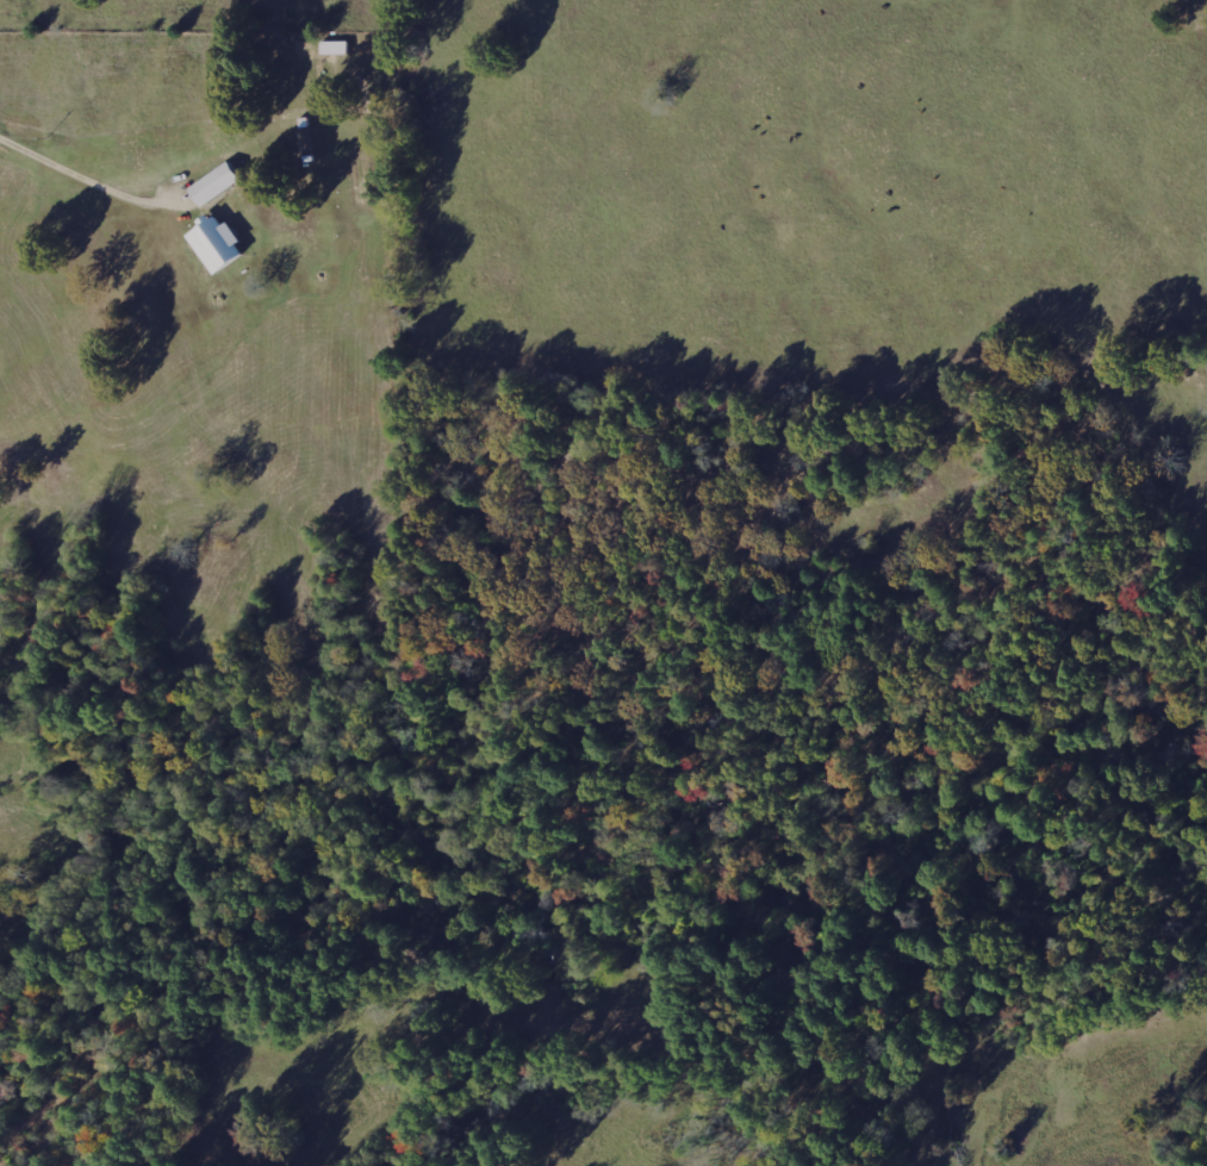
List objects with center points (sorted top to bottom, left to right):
road: (70, 172)
building: (222, 182)
building: (223, 243)

